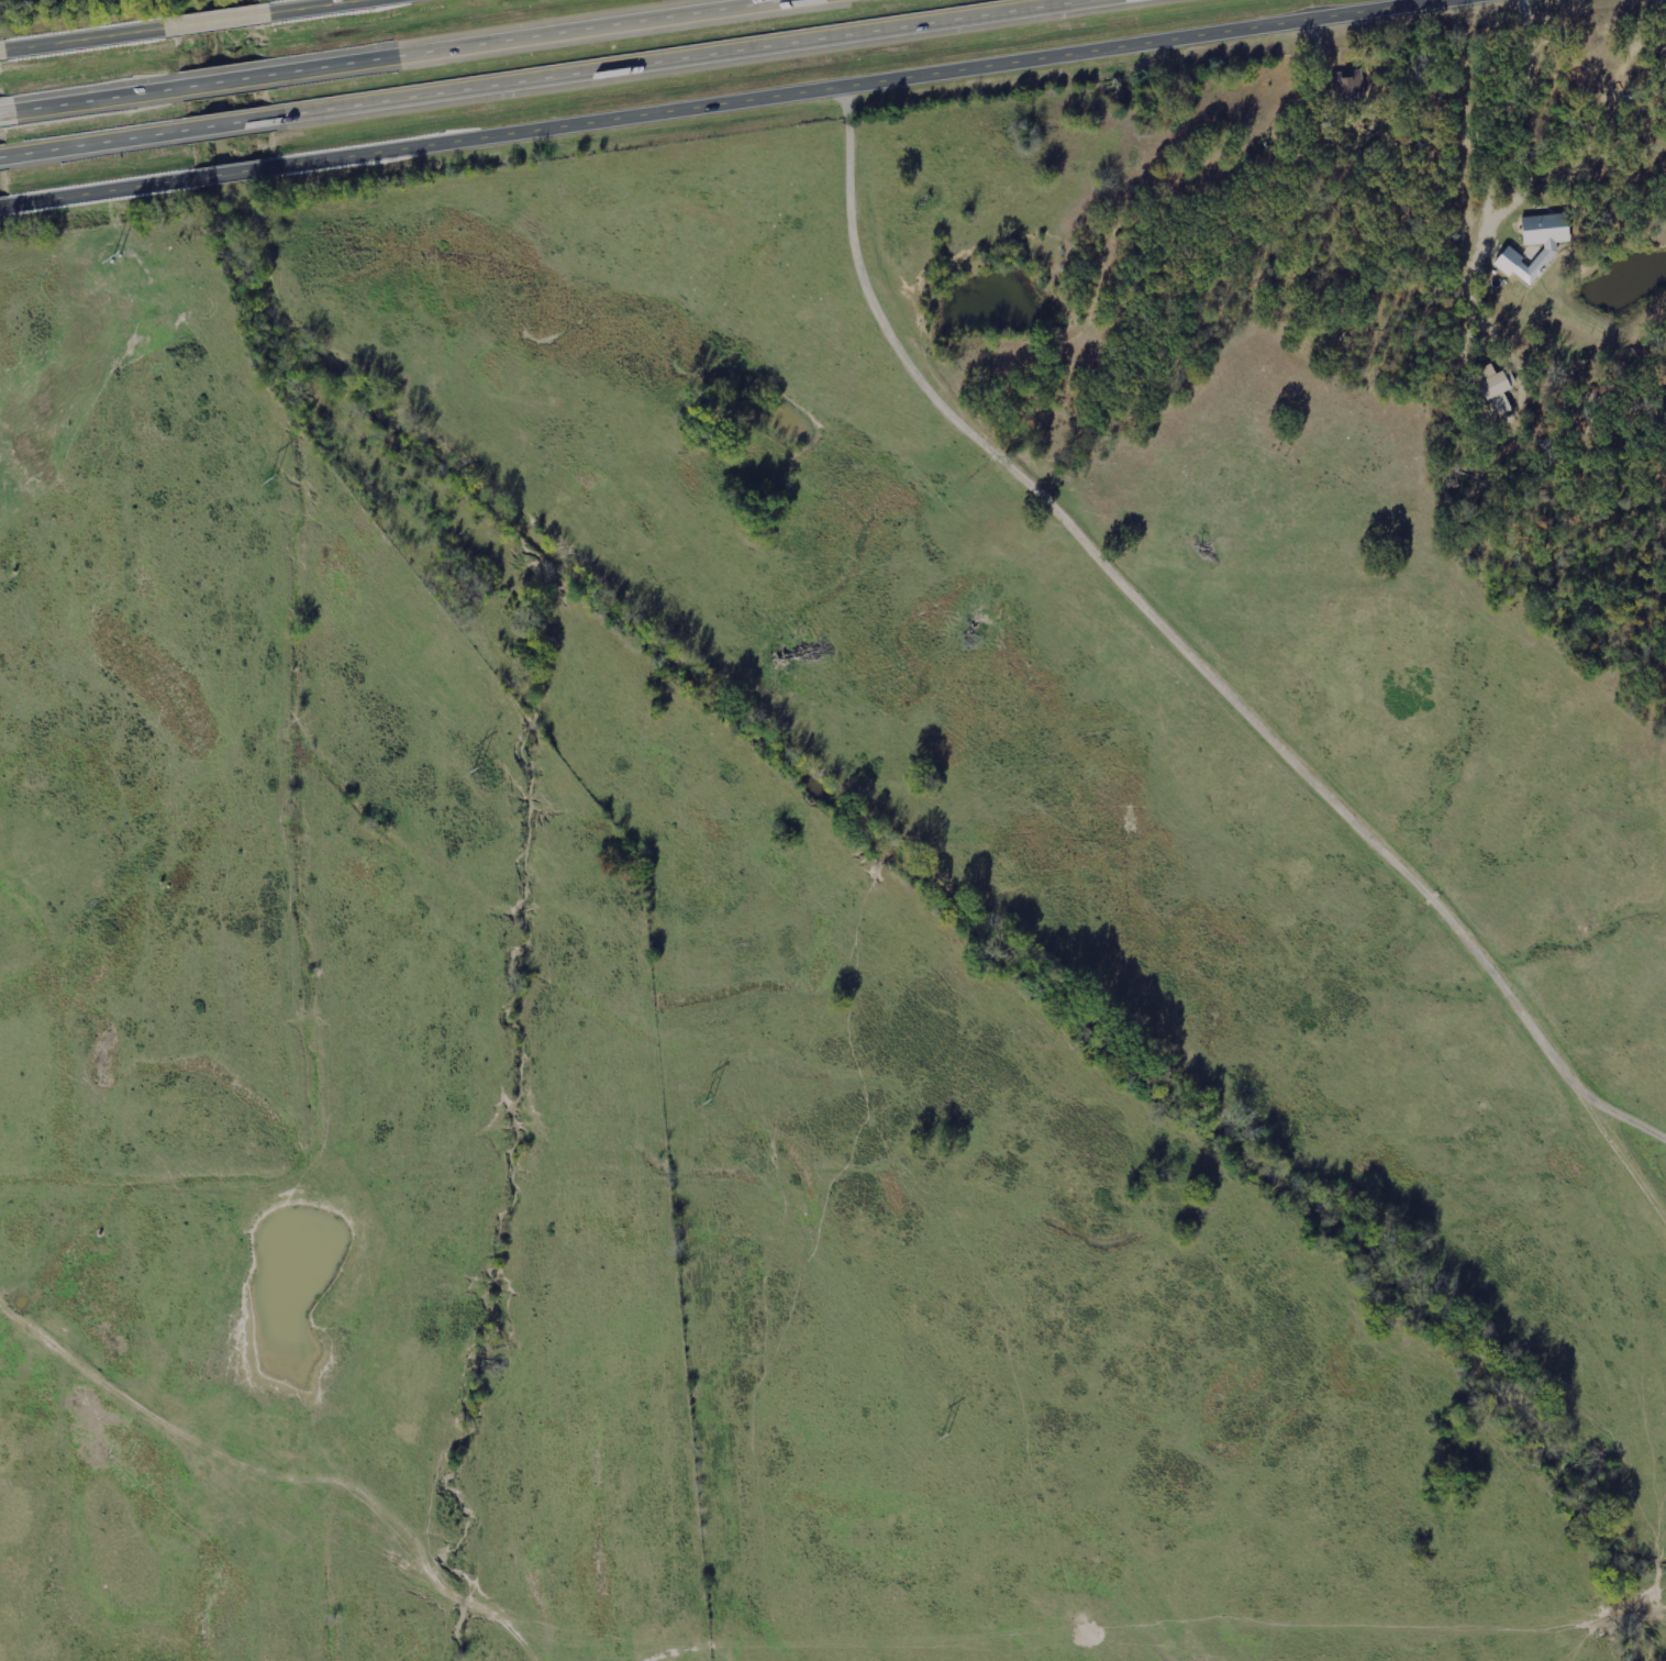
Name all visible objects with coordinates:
road: (302, 5)
road: (216, 18)
road: (481, 35)
road: (87, 36)
road: (1, 48)
road: (665, 57)
road: (843, 79)
road: (225, 80)
building: (1350, 86)
road: (95, 98)
road: (3, 110)
road: (227, 122)
road: (93, 141)
road: (1484, 150)
road: (2, 154)
road: (236, 169)
road: (103, 189)
road: (5, 203)
building: (1552, 248)
building: (1499, 389)
road: (1225, 640)
road: (47, 1343)

